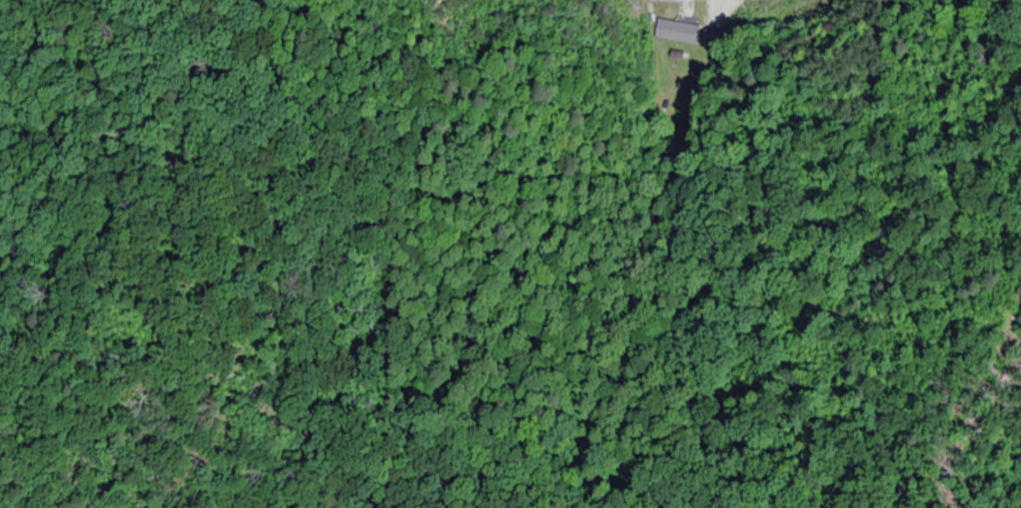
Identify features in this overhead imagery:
building: (678, 32)

